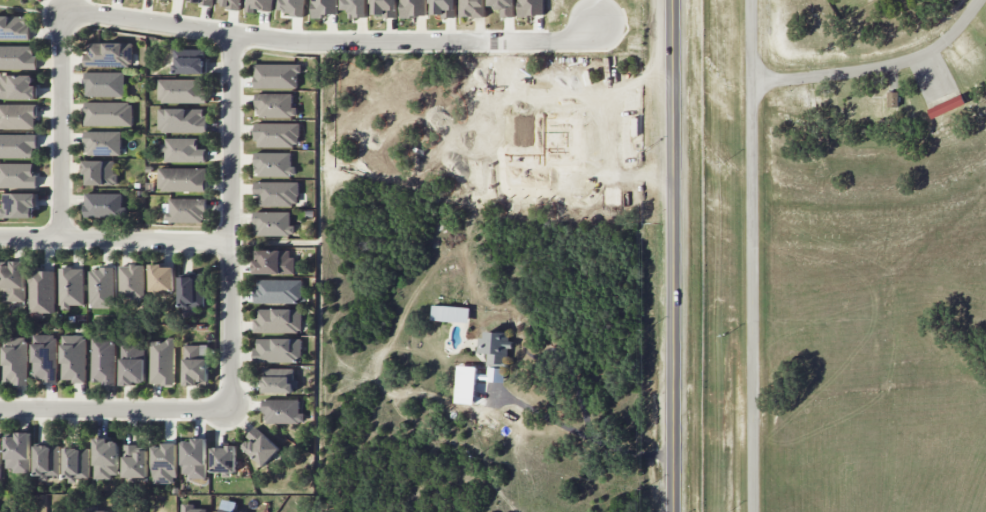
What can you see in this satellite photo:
building: (166, 0)
building: (231, 3)
building: (259, 5)
building: (292, 7)
building: (325, 7)
building: (356, 7)
building: (443, 7)
building: (504, 7)
building: (530, 7)
building: (384, 8)
building: (413, 8)
building: (472, 8)
building: (14, 27)
road: (333, 42)
building: (108, 54)
building: (17, 57)
building: (190, 61)
road: (878, 67)
building: (276, 75)
building: (104, 84)
building: (18, 86)
building: (182, 90)
building: (892, 99)
building: (275, 105)
building: (946, 106)
building: (107, 113)
building: (18, 116)
building: (183, 120)
road: (61, 125)
building: (277, 134)
building: (102, 142)
building: (17, 145)
building: (184, 150)
building: (273, 164)
building: (99, 172)
building: (17, 175)
building: (183, 179)
building: (276, 193)
building: (103, 204)
building: (18, 205)
building: (185, 210)
road: (231, 222)
building: (273, 223)
road: (115, 239)
road: (673, 255)
road: (758, 256)
building: (273, 261)
building: (161, 278)
building: (12, 281)
building: (131, 282)
building: (71, 286)
building: (101, 286)
building: (42, 290)
building: (192, 290)
building: (278, 290)
building: (450, 313)
building: (277, 320)
building: (495, 347)
building: (278, 350)
building: (44, 357)
building: (74, 357)
building: (15, 360)
building: (103, 360)
building: (162, 361)
building: (132, 364)
building: (195, 364)
building: (279, 380)
road: (115, 409)
building: (281, 411)
road: (583, 433)
building: (259, 446)
building: (18, 452)
building: (194, 457)
building: (106, 458)
building: (224, 458)
building: (0, 460)
building: (46, 461)
building: (135, 462)
building: (164, 463)
building: (76, 464)
building: (191, 508)
building: (92, 509)
building: (228, 510)

